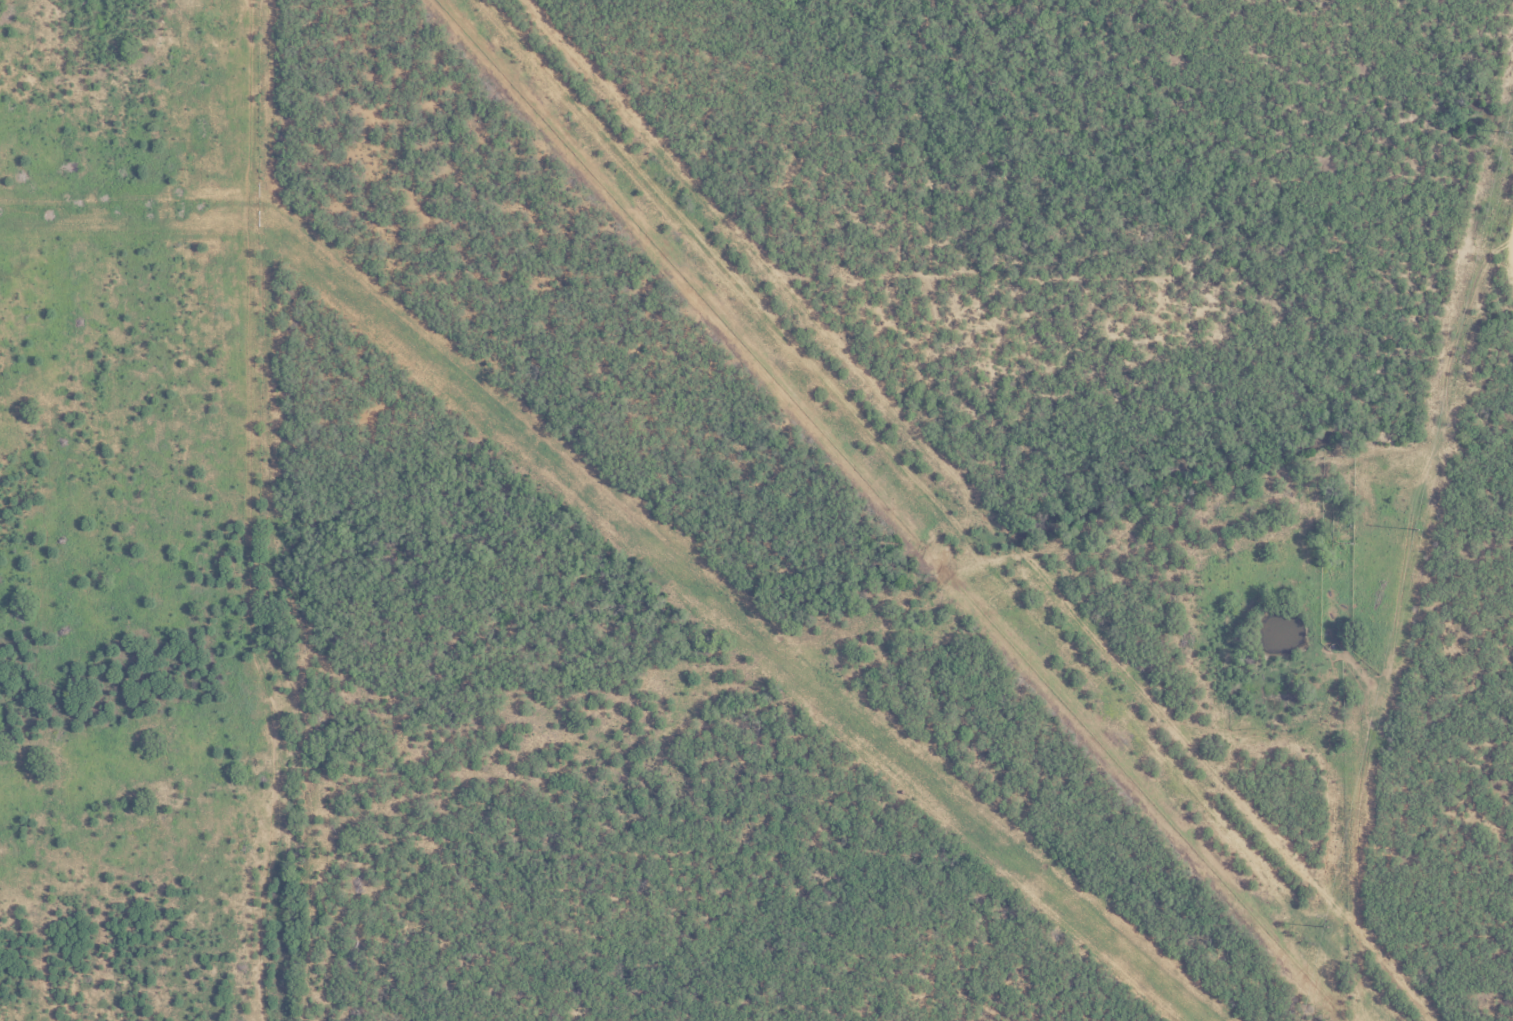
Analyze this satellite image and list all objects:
power tower: (1505, 131)
power tower: (1416, 529)
power tower: (1326, 927)

